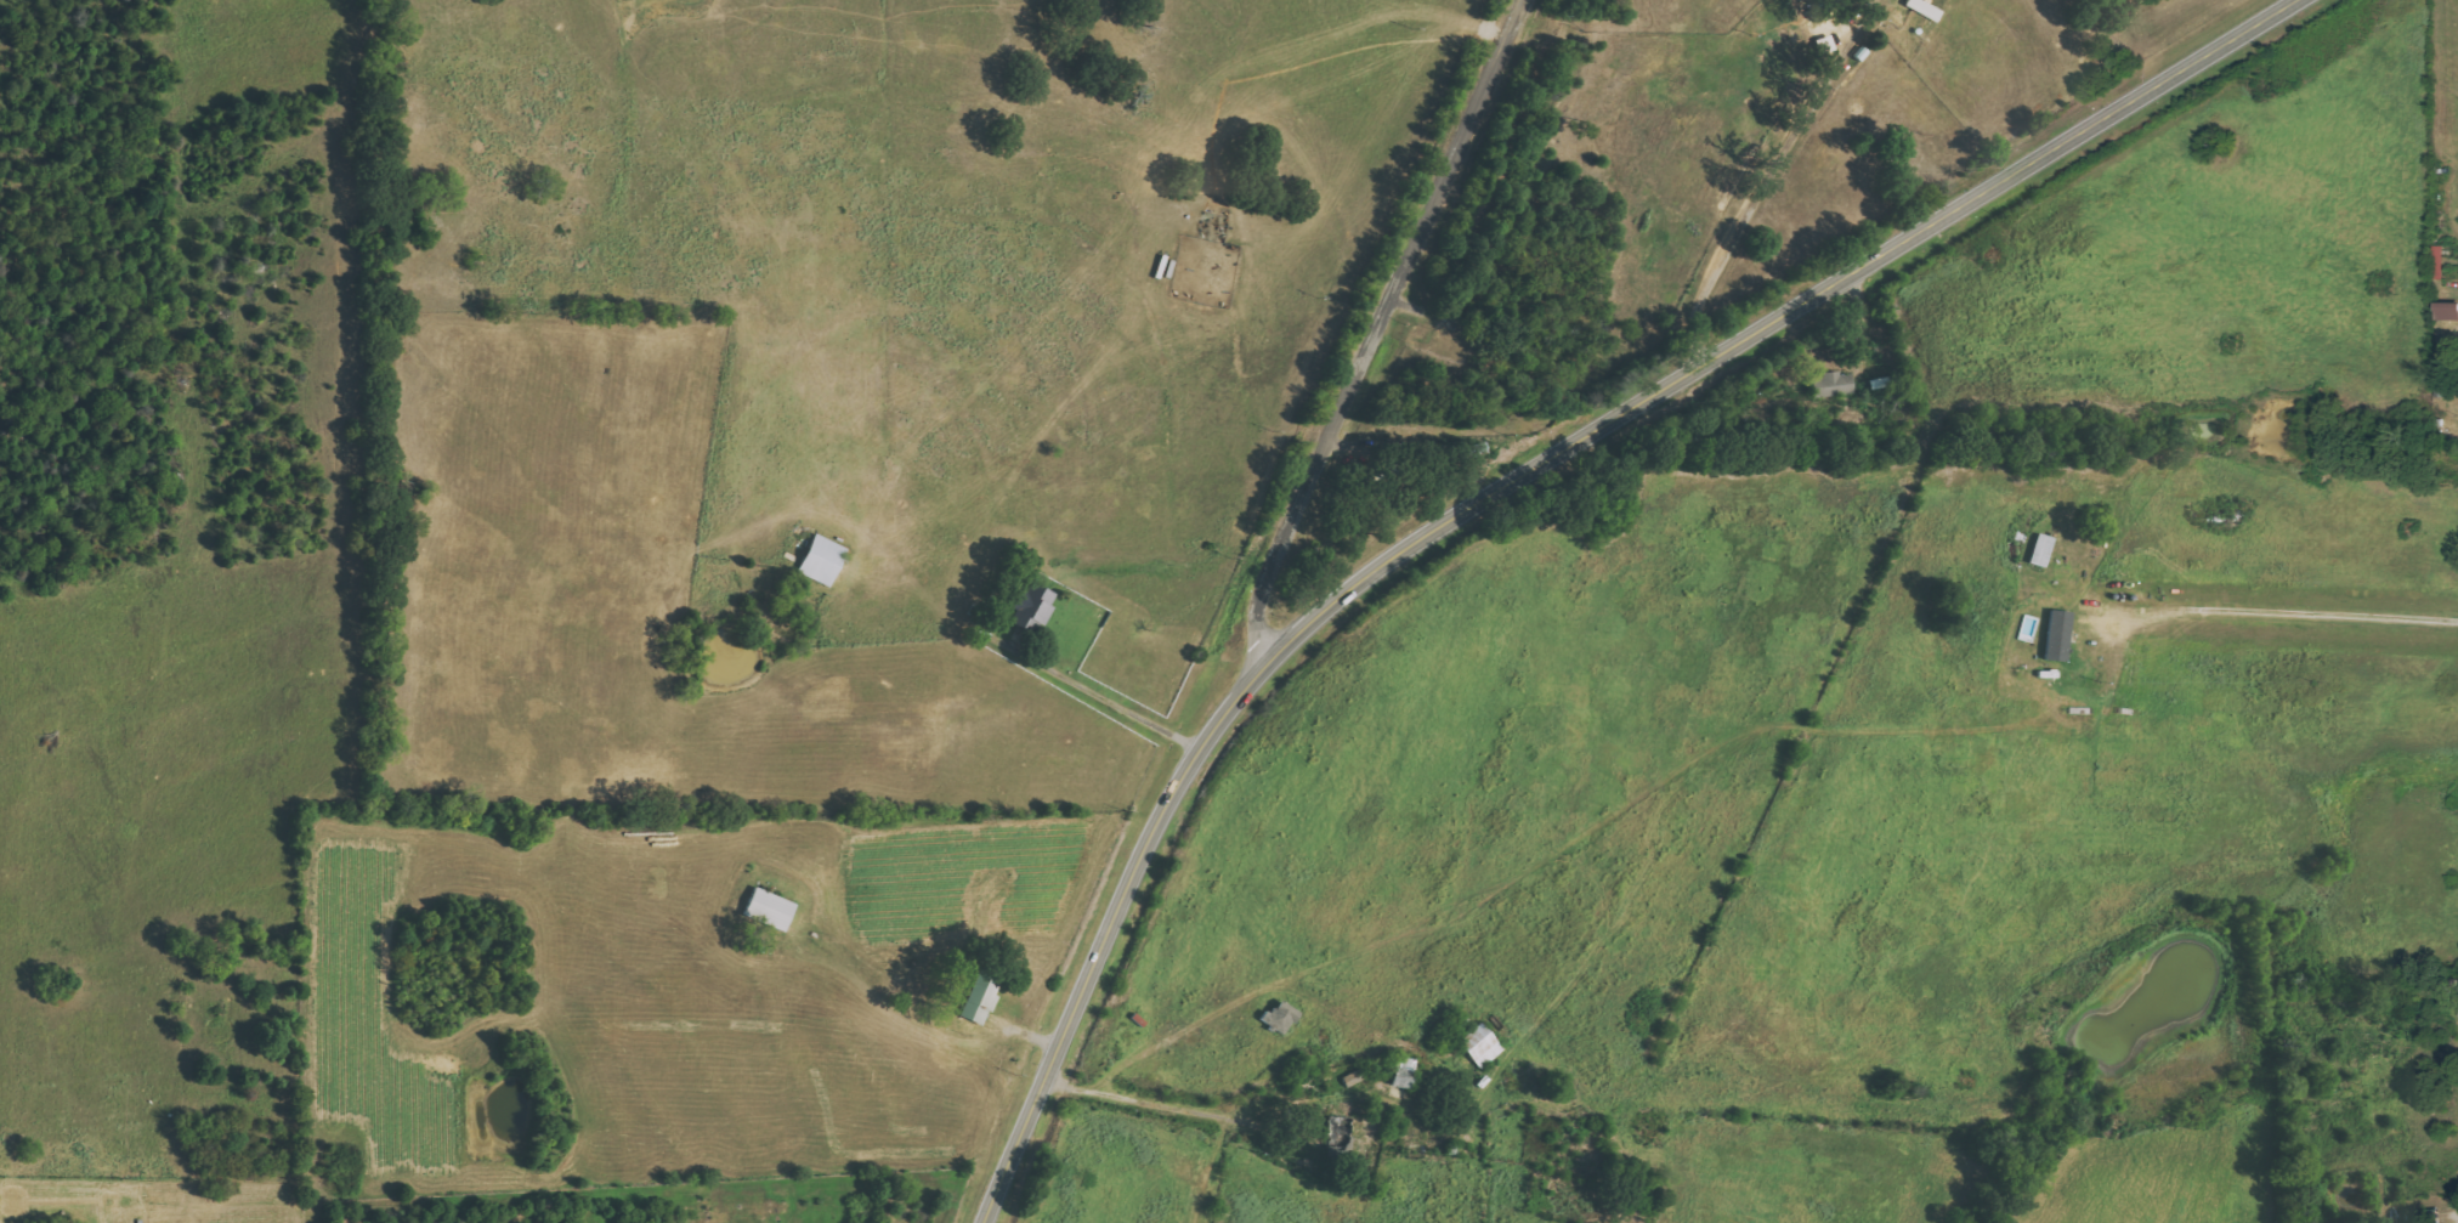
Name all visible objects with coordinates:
road: (1740, 208)
building: (2447, 311)
road: (1377, 330)
building: (1833, 384)
road: (1508, 482)
building: (2041, 550)
building: (822, 560)
building: (1035, 606)
road: (2284, 607)
road: (974, 633)
building: (2058, 635)
road: (2335, 895)
building: (770, 908)
building: (981, 997)
building: (1280, 1015)
building: (1480, 1046)
building: (1404, 1071)
building: (1353, 1077)
road: (1144, 1097)

